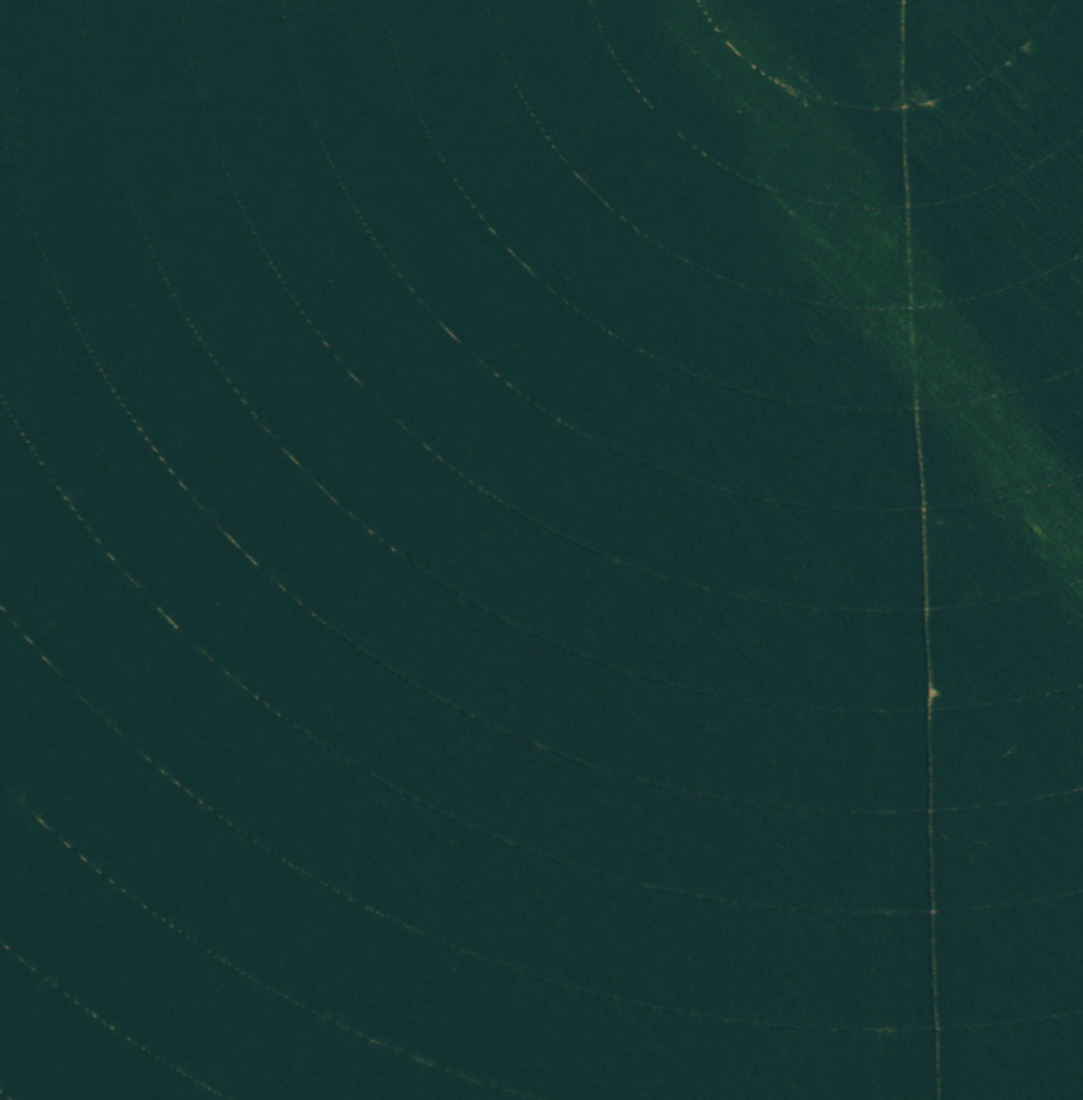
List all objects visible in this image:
building: (210, 510)

